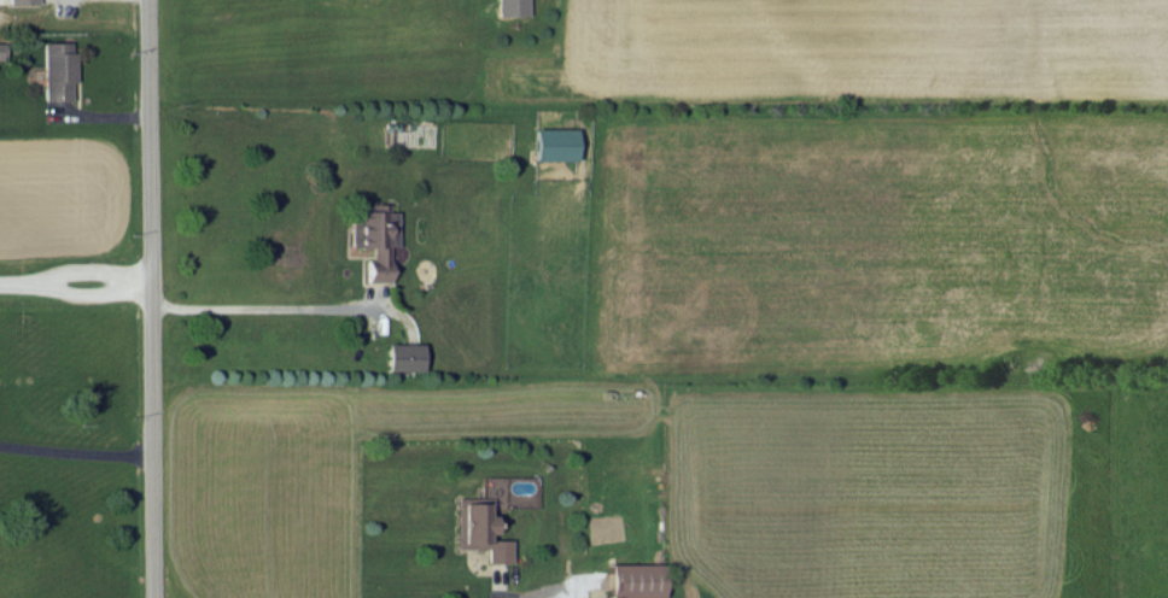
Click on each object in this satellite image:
building: (19, 1)
building: (509, 7)
building: (1, 49)
building: (54, 69)
building: (553, 143)
building: (375, 238)
road: (69, 269)
road: (27, 280)
road: (151, 299)
road: (262, 307)
building: (403, 356)
road: (76, 451)
building: (478, 529)
building: (633, 579)

